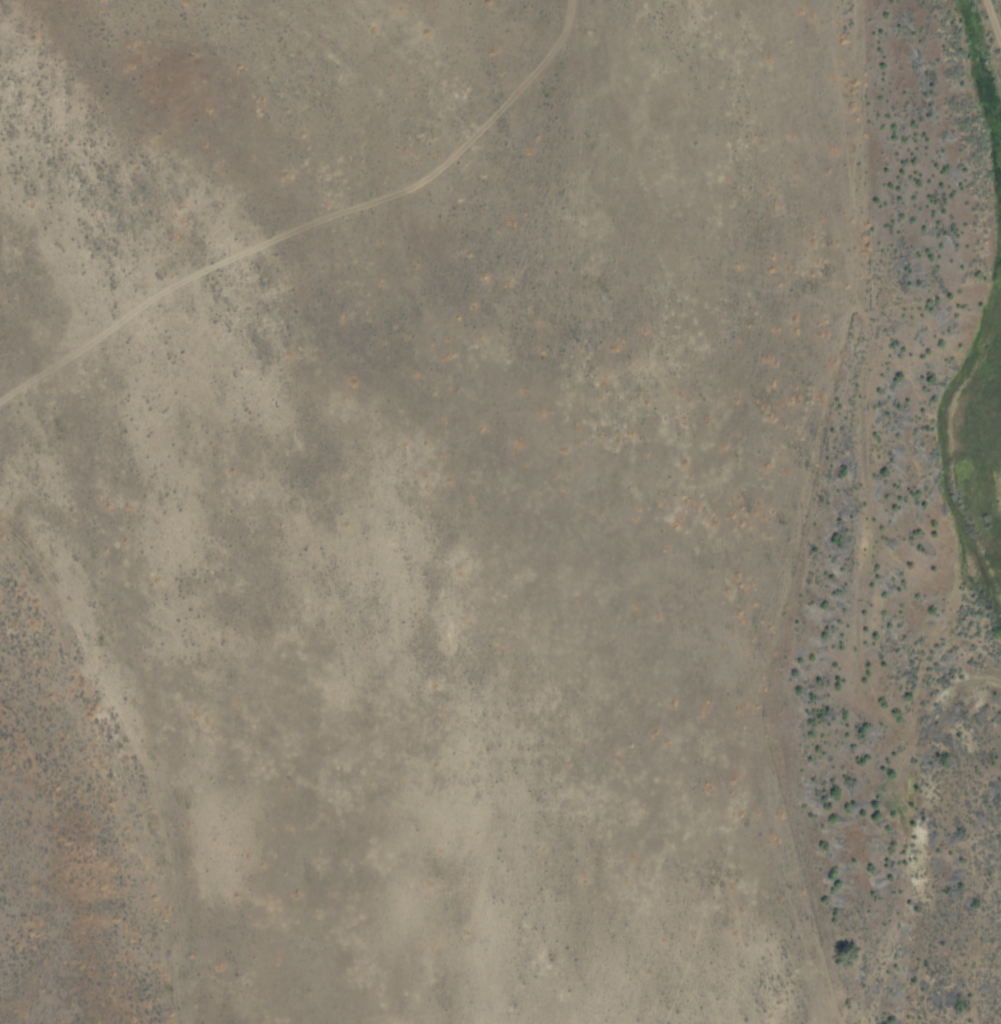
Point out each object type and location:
crop: (999, 8)

